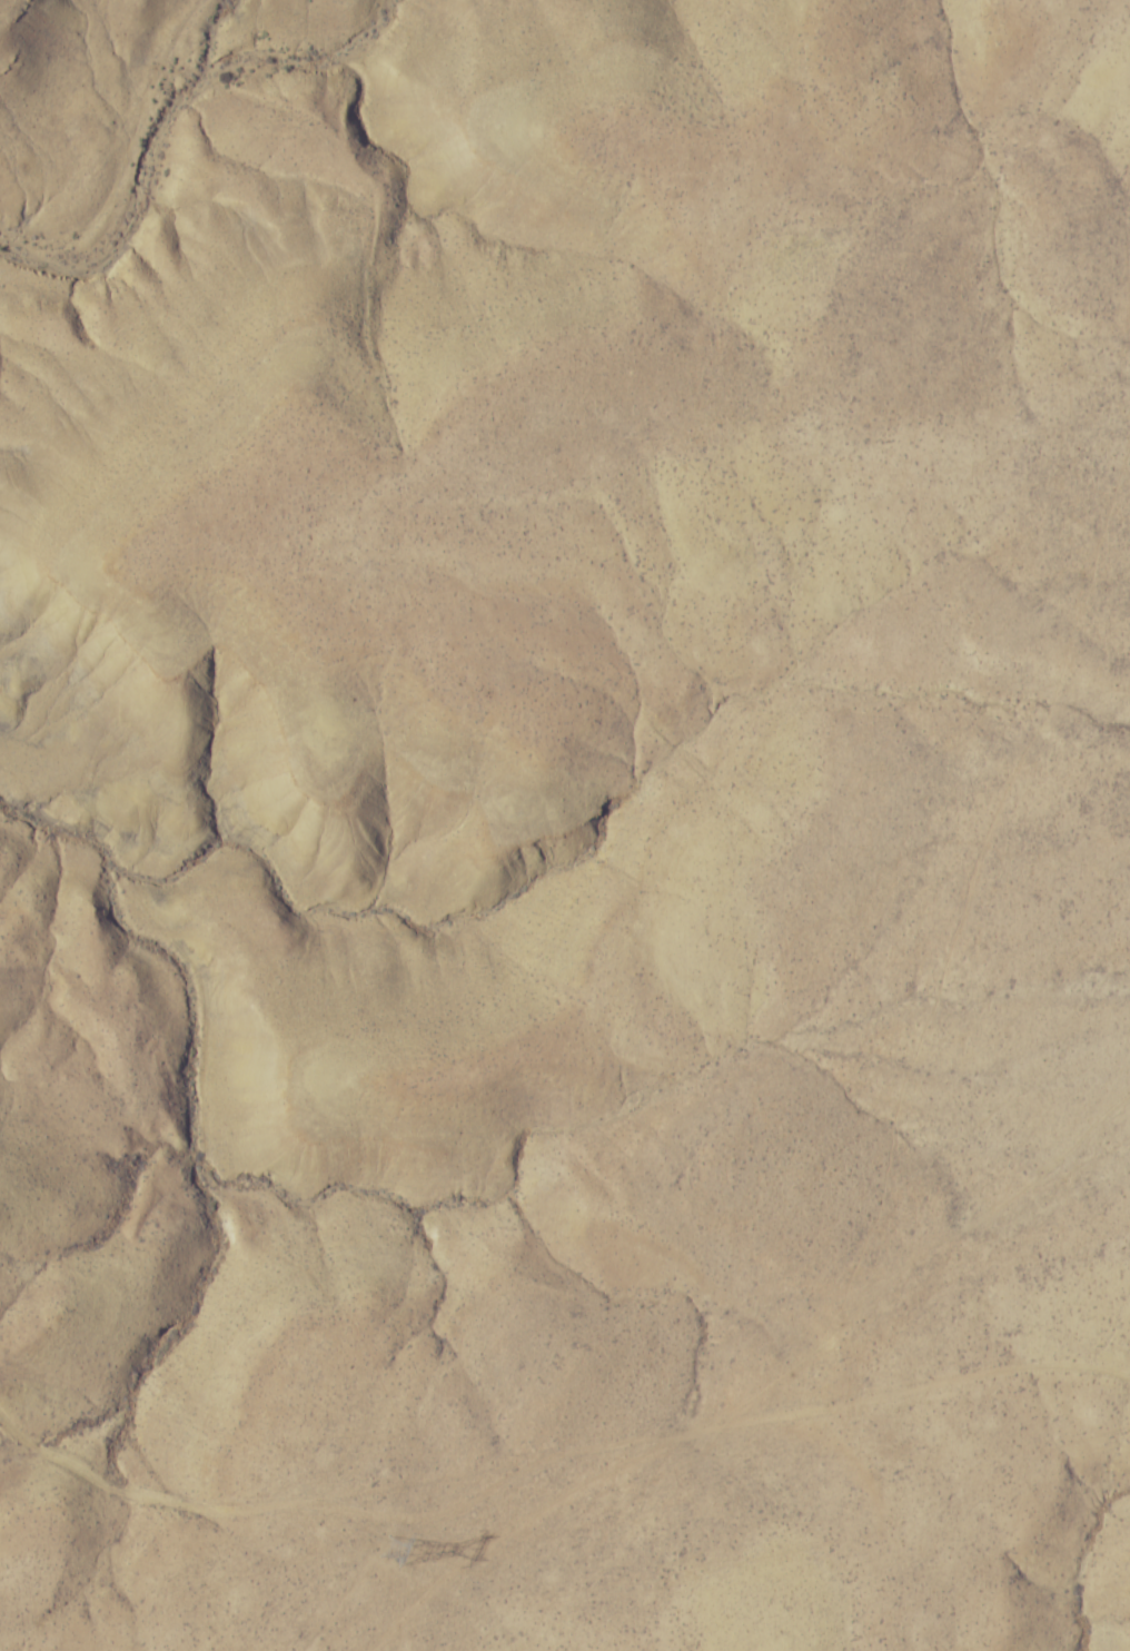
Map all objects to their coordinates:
power tower: (395, 1539)

